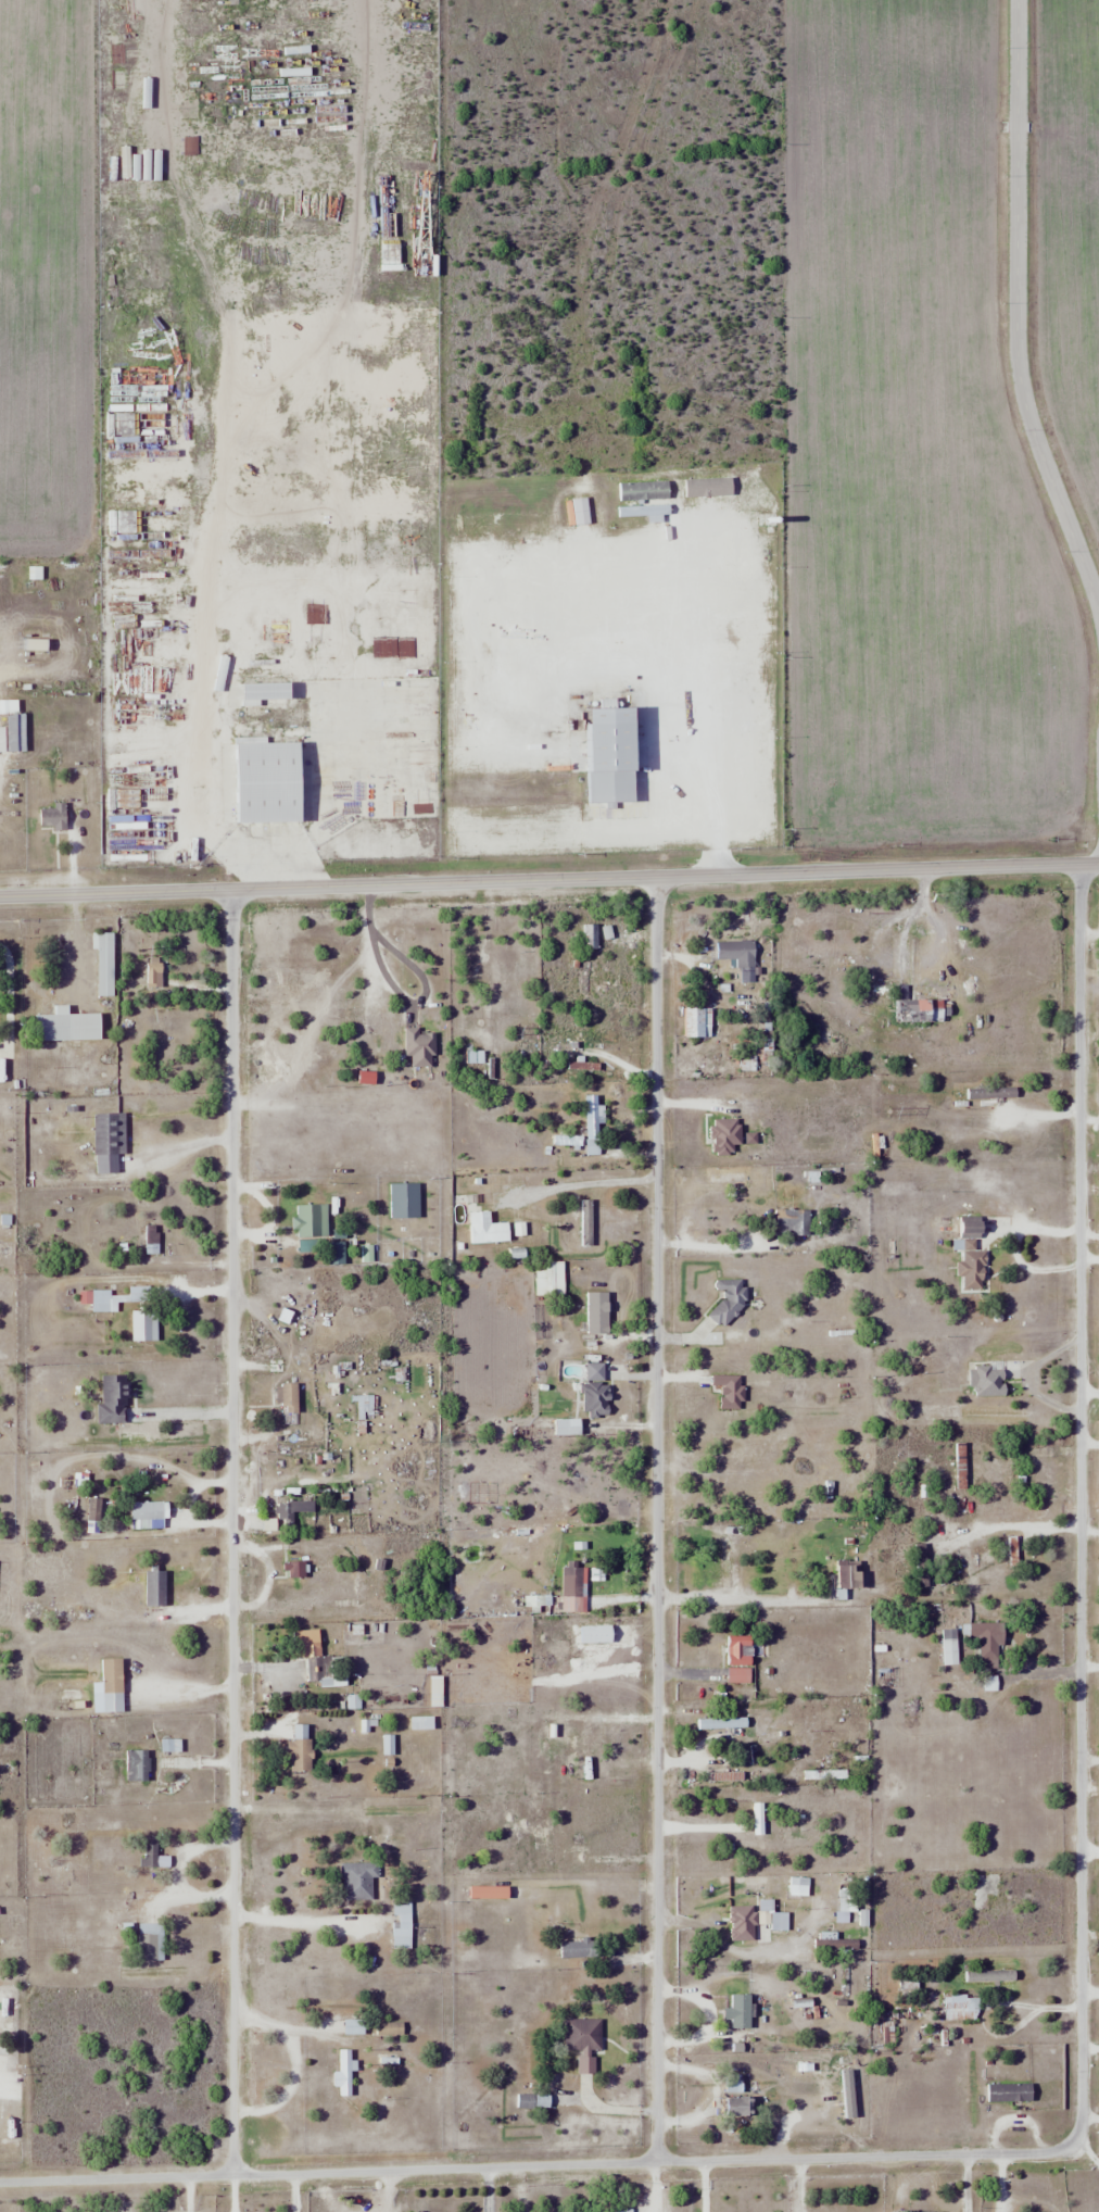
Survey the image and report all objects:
road: (1015, 311)
building: (268, 691)
road: (710, 699)
building: (12, 727)
building: (273, 781)
building: (53, 817)
road: (632, 827)
road: (549, 879)
building: (591, 935)
power tower: (143, 952)
building: (738, 957)
building: (104, 963)
building: (154, 976)
building: (926, 1011)
building: (698, 1022)
building: (370, 1025)
building: (68, 1027)
power tower: (513, 1031)
building: (418, 1043)
building: (990, 1093)
power tower: (890, 1111)
building: (592, 1124)
building: (110, 1133)
building: (729, 1178)
building: (312, 1221)
building: (792, 1222)
building: (970, 1227)
building: (488, 1229)
building: (972, 1269)
building: (118, 1297)
building: (598, 1312)
building: (144, 1325)
building: (994, 1378)
building: (287, 1397)
building: (595, 1398)
building: (113, 1400)
building: (367, 1406)
building: (519, 1433)
building: (292, 1435)
road: (1081, 1506)
building: (292, 1509)
building: (150, 1516)
road: (656, 1520)
road: (231, 1533)
building: (922, 1566)
building: (294, 1570)
building: (849, 1575)
building: (155, 1588)
building: (573, 1592)
building: (533, 1601)
building: (988, 1639)
building: (949, 1645)
building: (312, 1655)
building: (740, 1659)
building: (112, 1677)
building: (435, 1692)
building: (68, 1698)
building: (418, 1723)
building: (300, 1749)
building: (586, 1754)
building: (138, 1767)
building: (153, 1855)
building: (358, 1882)
building: (490, 1893)
building: (769, 1924)
building: (402, 1925)
building: (150, 1941)
building: (578, 1948)
building: (961, 2007)
building: (742, 2010)
building: (354, 2026)
building: (584, 2039)
building: (343, 2072)
building: (526, 2100)
building: (740, 2106)
road: (536, 2167)
building: (623, 2210)

